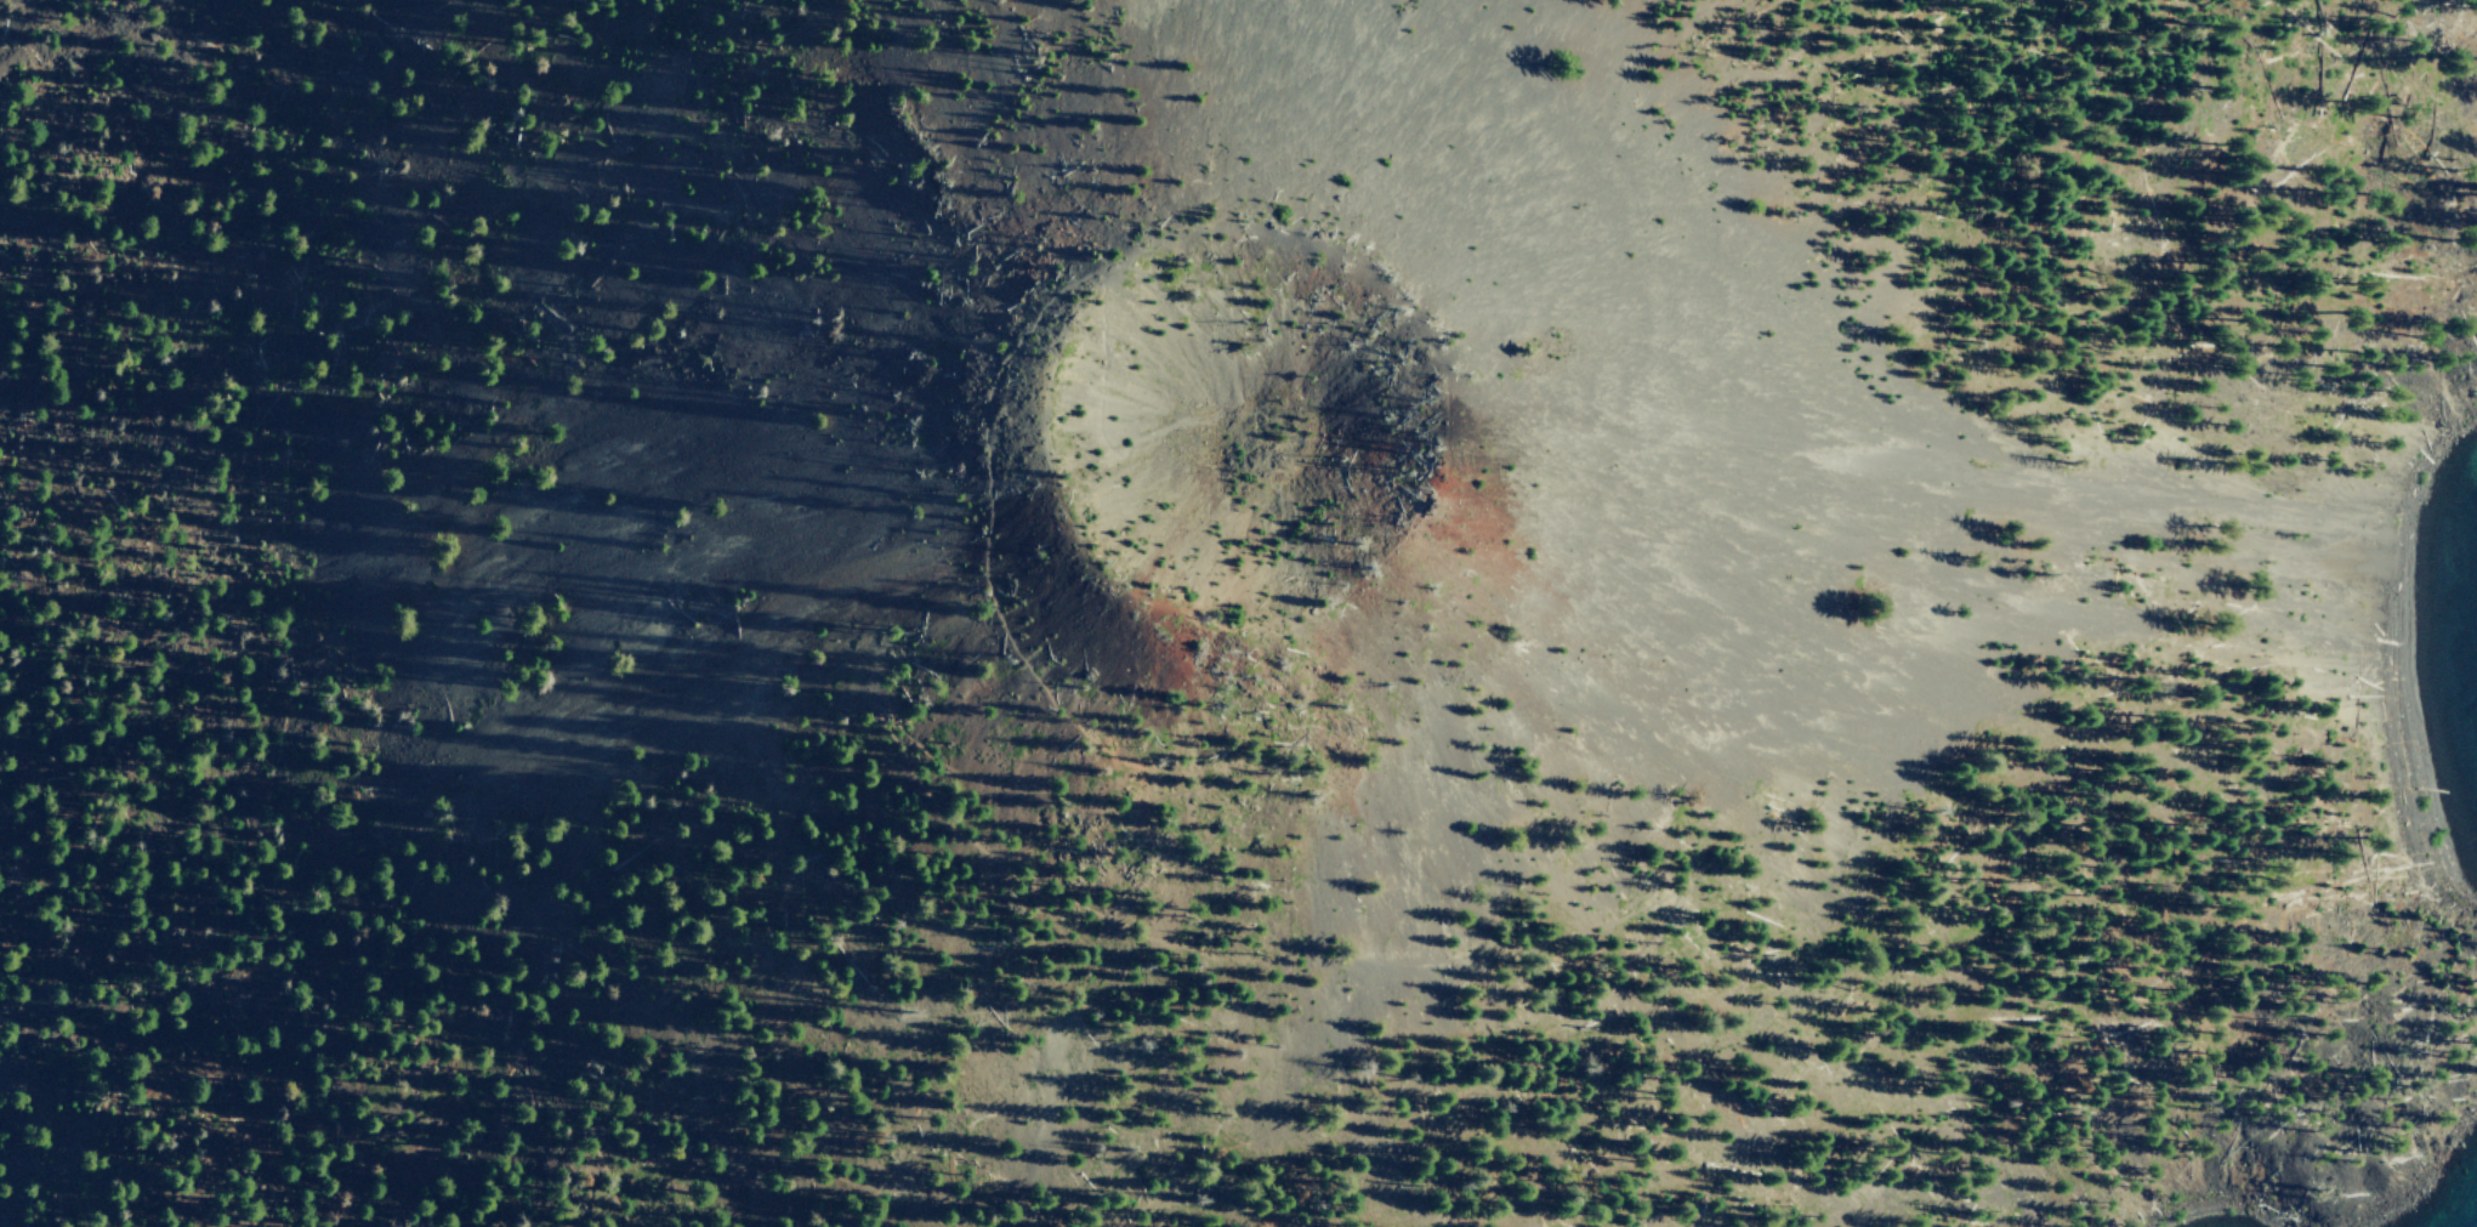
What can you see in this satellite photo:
road: (1360, 574)
road: (1311, 956)
road: (15, 1062)
road: (268, 1223)

